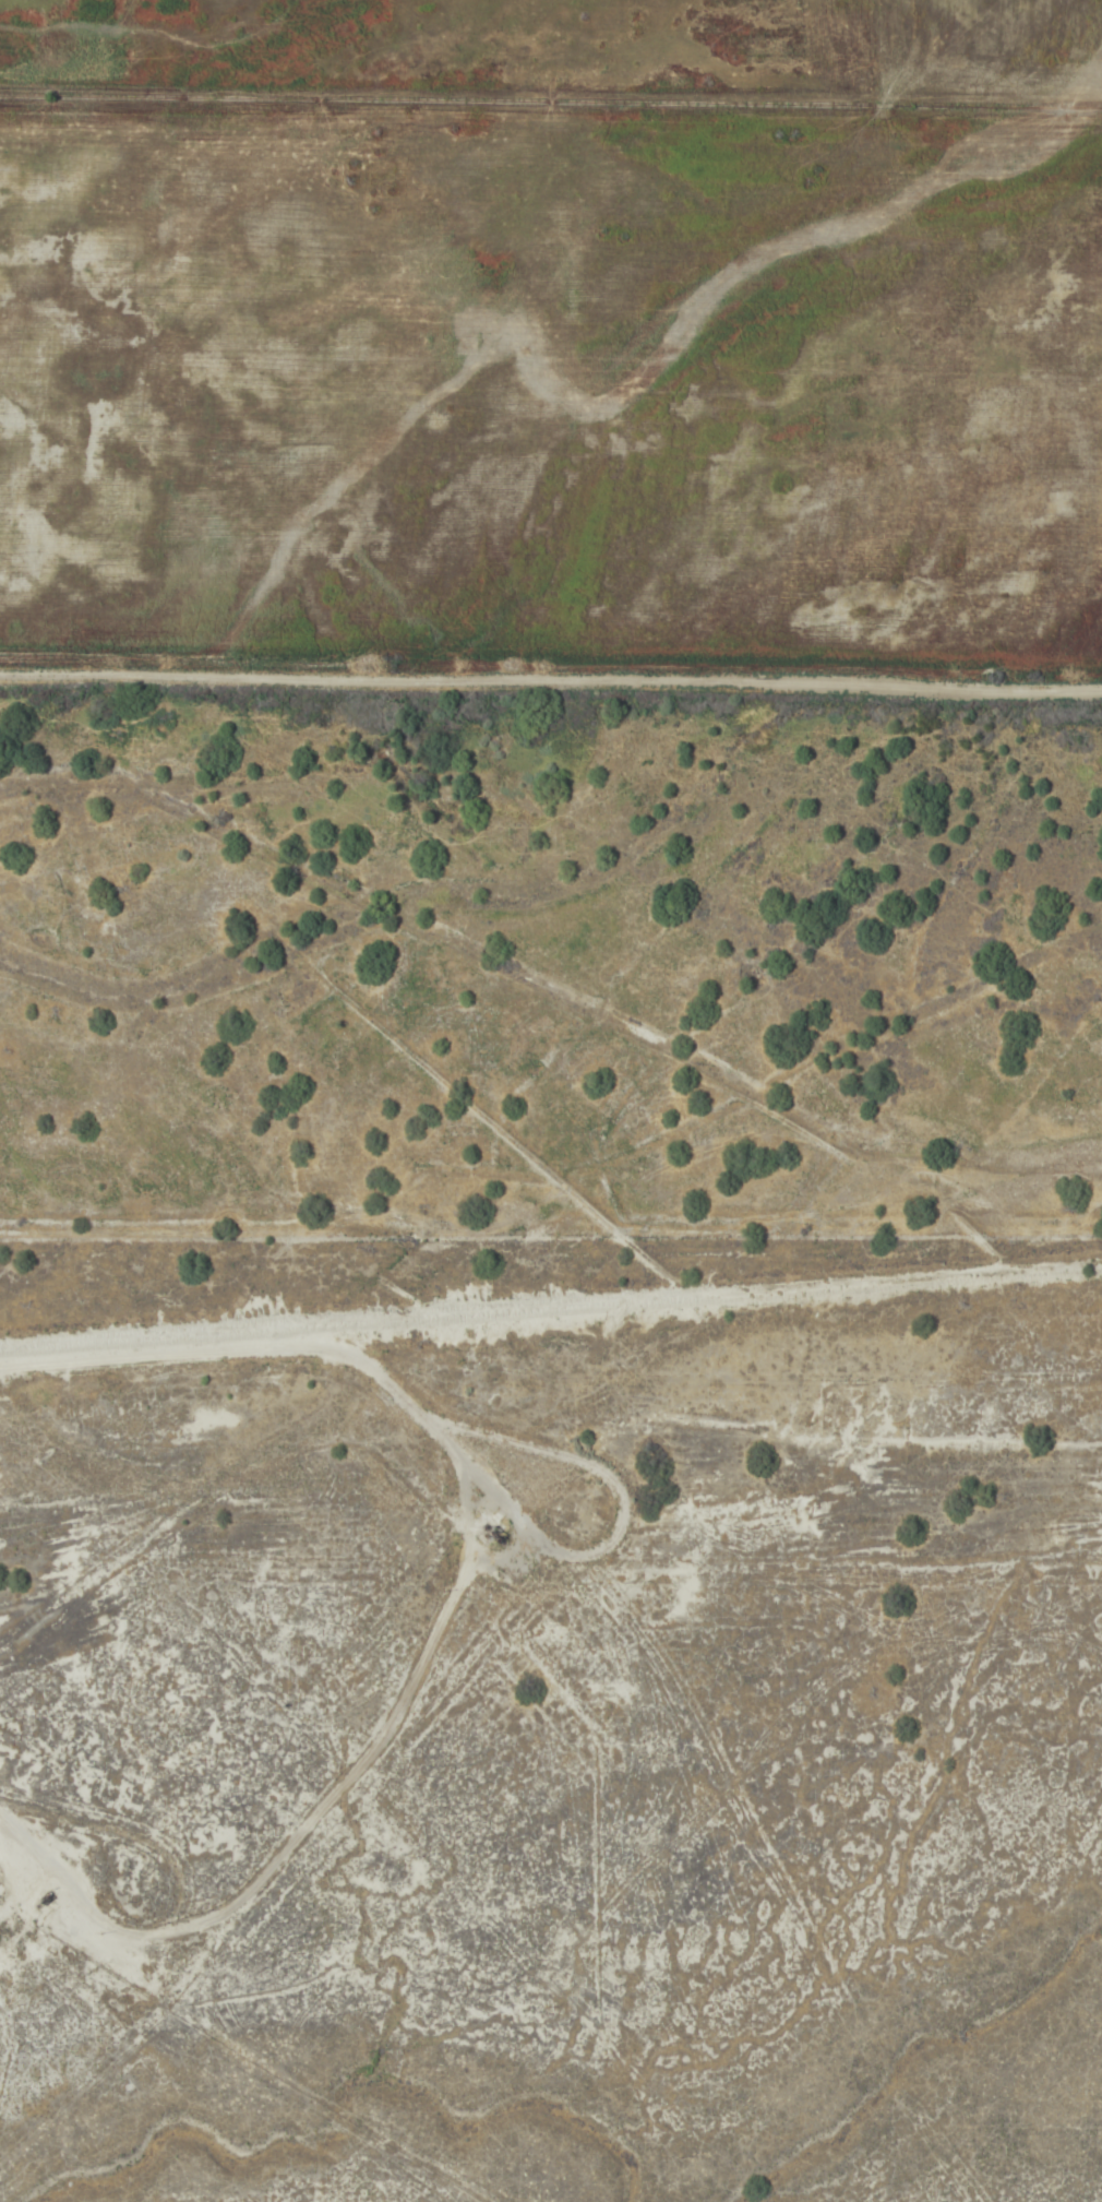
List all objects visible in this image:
road: (550, 669)
road: (551, 1297)

